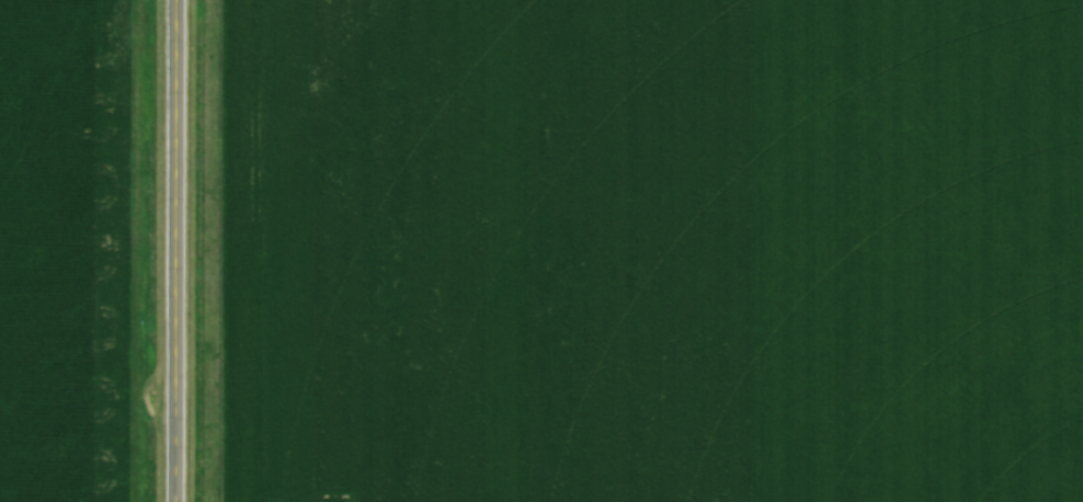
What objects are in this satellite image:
road: (178, 250)

